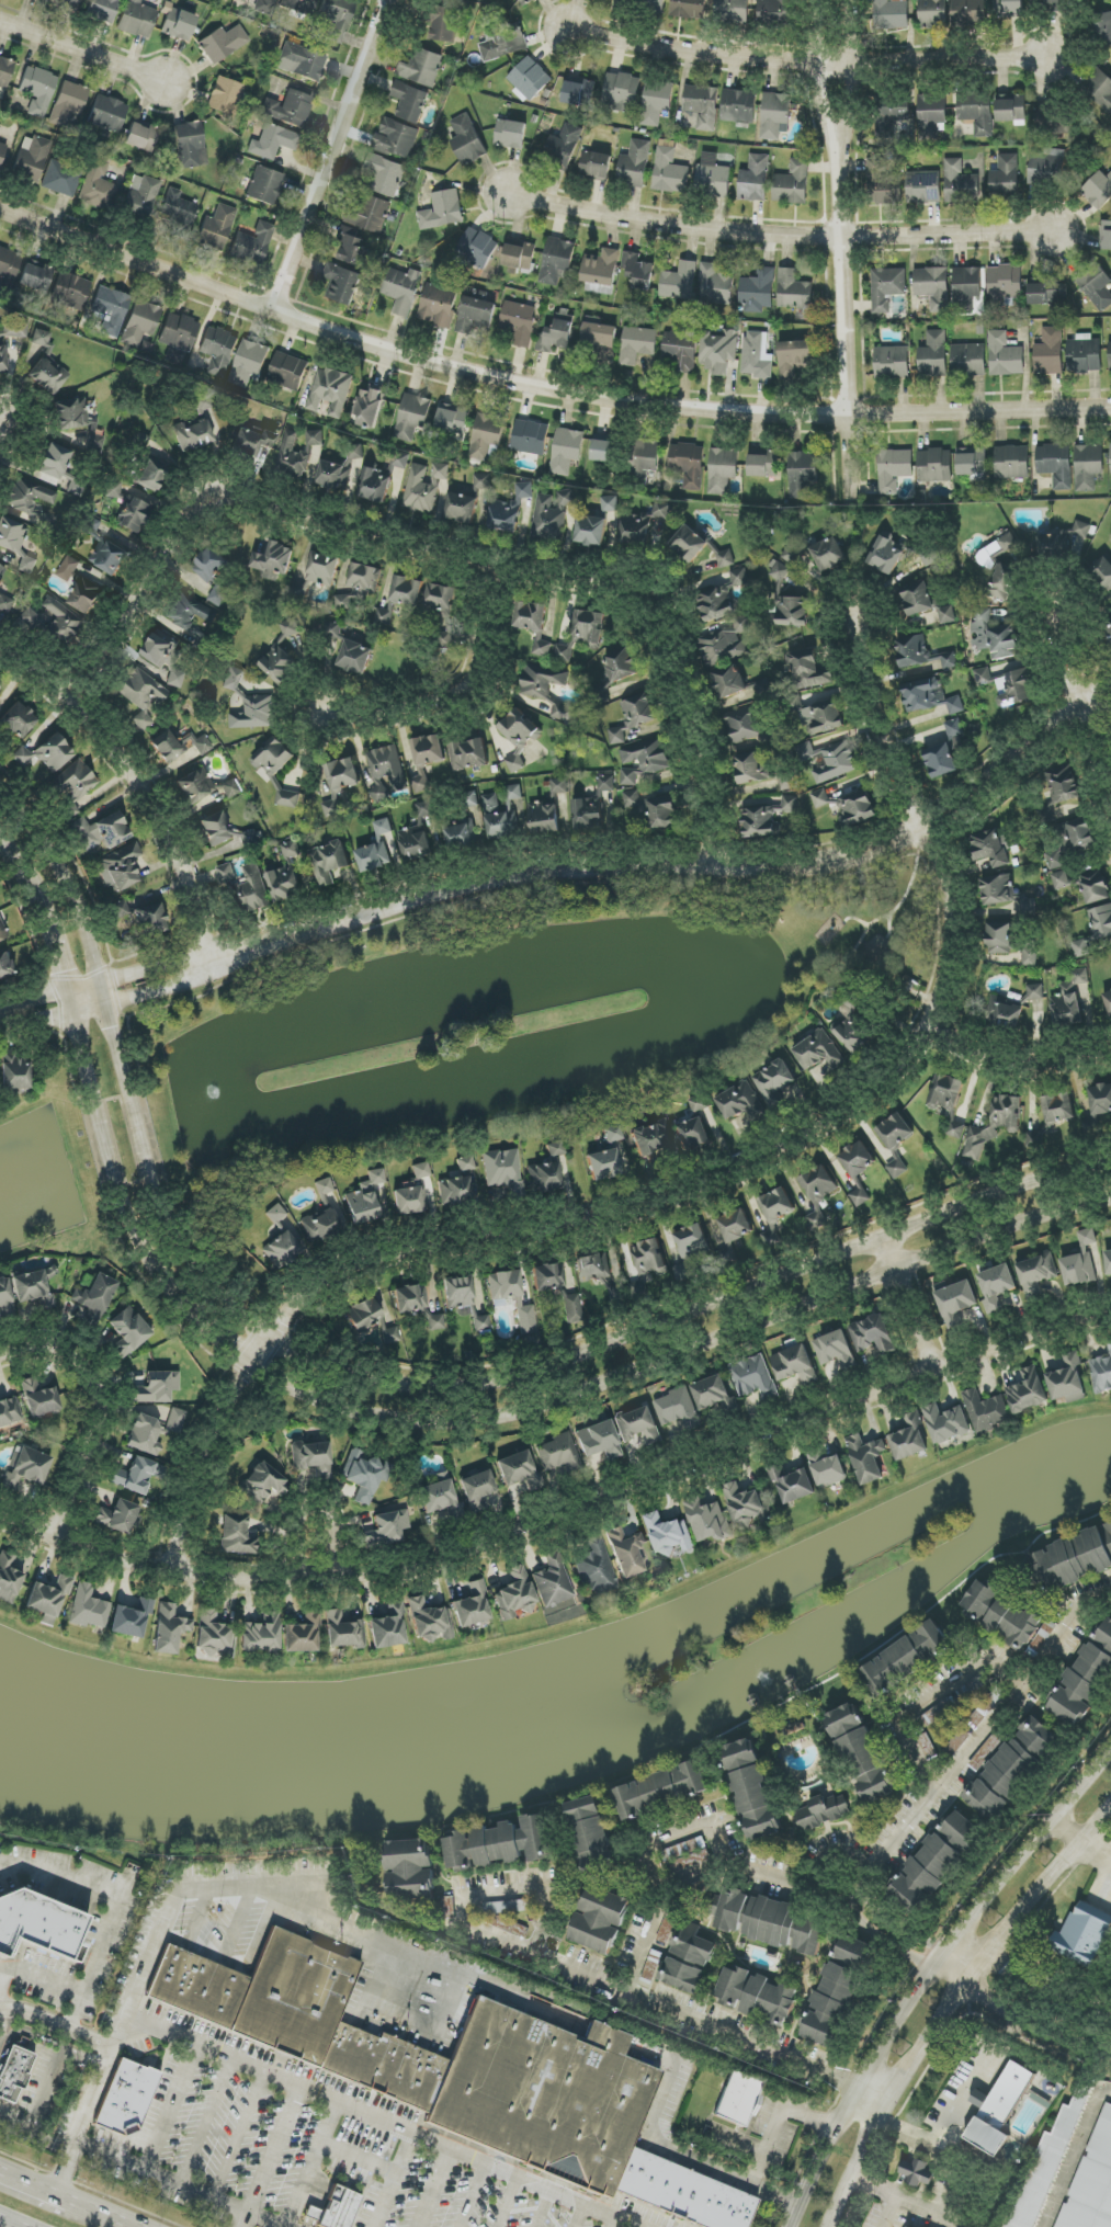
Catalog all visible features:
building: (624, 0)
building: (524, 2)
building: (651, 3)
building: (1047, 3)
building: (64, 4)
building: (299, 5)
building: (264, 7)
building: (1009, 8)
building: (103, 9)
building: (689, 9)
building: (732, 10)
building: (775, 11)
building: (968, 12)
building: (933, 13)
building: (891, 14)
building: (337, 18)
building: (137, 19)
building: (179, 24)
building: (444, 24)
building: (1104, 29)
building: (223, 43)
road: (82, 50)
road: (806, 59)
building: (301, 61)
building: (422, 68)
building: (5, 71)
building: (530, 78)
building: (37, 90)
building: (1099, 90)
building: (622, 92)
building: (578, 93)
building: (225, 96)
building: (701, 99)
building: (410, 102)
building: (656, 102)
building: (68, 103)
building: (740, 105)
building: (288, 109)
building: (1011, 109)
building: (976, 112)
building: (107, 113)
building: (931, 115)
building: (775, 116)
building: (891, 116)
building: (1052, 118)
building: (511, 134)
building: (141, 137)
building: (396, 138)
building: (467, 140)
building: (273, 141)
building: (191, 145)
building: (563, 147)
building: (2, 151)
road: (328, 155)
building: (31, 157)
building: (635, 164)
building: (596, 166)
building: (1046, 168)
building: (669, 170)
building: (385, 175)
building: (1006, 175)
building: (61, 178)
building: (713, 180)
building: (755, 180)
building: (793, 183)
building: (883, 183)
building: (960, 183)
building: (264, 185)
building: (98, 186)
building: (923, 188)
building: (1098, 190)
building: (141, 196)
road: (838, 206)
building: (178, 208)
building: (443, 211)
building: (370, 214)
building: (216, 227)
road: (776, 235)
building: (1106, 236)
building: (252, 245)
building: (354, 248)
building: (477, 248)
building: (519, 255)
building: (557, 261)
building: (601, 268)
building: (7, 270)
building: (638, 270)
building: (35, 276)
building: (679, 282)
building: (1005, 282)
building: (342, 284)
building: (717, 284)
building: (933, 287)
building: (887, 288)
building: (967, 288)
building: (403, 289)
building: (70, 291)
building: (758, 291)
building: (793, 291)
building: (1047, 292)
building: (438, 305)
building: (111, 310)
building: (475, 316)
building: (140, 322)
building: (519, 322)
building: (179, 332)
building: (557, 332)
building: (10, 336)
building: (42, 338)
building: (599, 339)
building: (637, 344)
building: (218, 350)
building: (681, 350)
building: (719, 351)
building: (1050, 352)
building: (1084, 354)
building: (933, 355)
building: (1005, 355)
building: (1110, 355)
building: (756, 356)
building: (794, 357)
building: (251, 359)
building: (968, 360)
building: (892, 363)
building: (287, 371)
building: (47, 376)
road: (542, 387)
building: (330, 391)
building: (203, 404)
building: (369, 408)
building: (73, 416)
building: (412, 417)
building: (453, 418)
road: (2, 427)
building: (193, 434)
building: (487, 435)
building: (315, 438)
building: (530, 438)
building: (251, 441)
building: (1110, 444)
building: (567, 451)
building: (603, 451)
building: (355, 452)
building: (292, 457)
building: (647, 457)
road: (843, 459)
building: (972, 462)
building: (1011, 463)
building: (54, 464)
building: (688, 464)
building: (763, 464)
building: (934, 465)
building: (1056, 465)
building: (1088, 466)
building: (895, 467)
building: (723, 469)
building: (151, 474)
building: (803, 475)
building: (335, 476)
building: (382, 478)
building: (483, 481)
building: (423, 488)
building: (113, 489)
building: (29, 496)
building: (609, 503)
building: (462, 508)
building: (510, 510)
building: (133, 514)
building: (552, 514)
building: (48, 522)
building: (643, 524)
road: (335, 526)
building: (590, 531)
building: (1080, 537)
building: (16, 544)
building: (689, 544)
building: (1054, 546)
building: (792, 554)
building: (827, 555)
building: (886, 555)
building: (109, 556)
building: (725, 559)
building: (274, 560)
building: (209, 565)
building: (999, 567)
building: (68, 568)
building: (322, 569)
building: (1, 570)
building: (1103, 572)
building: (739, 577)
building: (776, 577)
building: (359, 586)
building: (407, 591)
building: (219, 592)
building: (86, 595)
building: (917, 599)
building: (716, 603)
building: (4, 605)
building: (441, 609)
building: (792, 611)
road: (133, 613)
building: (190, 615)
building: (385, 615)
building: (946, 615)
building: (54, 622)
building: (533, 624)
building: (1110, 628)
building: (333, 629)
building: (582, 633)
building: (994, 636)
building: (727, 643)
building: (915, 651)
road: (669, 656)
building: (281, 657)
building: (355, 657)
building: (166, 658)
building: (949, 660)
building: (621, 664)
building: (808, 670)
building: (233, 679)
building: (542, 680)
building: (729, 682)
building: (0, 688)
building: (763, 688)
building: (141, 694)
road: (1074, 695)
road: (457, 696)
building: (601, 696)
building: (929, 696)
building: (560, 712)
building: (256, 713)
building: (633, 717)
building: (821, 718)
building: (18, 720)
building: (747, 723)
road: (878, 729)
building: (955, 734)
building: (519, 736)
building: (179, 746)
building: (428, 750)
building: (468, 753)
building: (46, 754)
building: (274, 757)
building: (830, 760)
building: (642, 761)
building: (940, 761)
building: (387, 766)
road: (1074, 766)
building: (753, 768)
building: (342, 774)
building: (420, 782)
road: (136, 783)
building: (606, 783)
building: (73, 785)
building: (195, 785)
building: (1063, 785)
building: (558, 786)
building: (230, 787)
building: (288, 798)
building: (820, 798)
building: (331, 807)
building: (857, 807)
building: (654, 808)
building: (588, 813)
building: (766, 817)
building: (499, 819)
building: (383, 828)
building: (216, 829)
building: (100, 832)
building: (417, 834)
building: (240, 836)
building: (460, 836)
building: (1070, 842)
building: (990, 848)
building: (291, 850)
building: (374, 857)
building: (329, 862)
building: (121, 868)
road: (571, 872)
building: (1061, 879)
building: (284, 883)
building: (247, 886)
building: (1095, 886)
building: (1005, 894)
building: (121, 909)
building: (149, 920)
building: (1096, 930)
building: (2, 931)
building: (999, 939)
park: (860, 943)
building: (1030, 956)
building: (4, 965)
building: (1034, 992)
building: (1069, 1000)
building: (1108, 1001)
building: (1002, 1013)
building: (851, 1026)
building: (818, 1052)
road: (1020, 1061)
building: (14, 1070)
building: (774, 1082)
building: (1100, 1100)
building: (948, 1101)
building: (740, 1102)
building: (1058, 1107)
building: (994, 1125)
building: (895, 1130)
building: (614, 1134)
building: (692, 1135)
building: (651, 1137)
building: (1033, 1139)
building: (556, 1149)
building: (857, 1159)
building: (605, 1161)
building: (466, 1163)
building: (897, 1166)
building: (421, 1170)
building: (502, 1170)
building: (544, 1177)
building: (818, 1184)
building: (324, 1186)
building: (457, 1191)
building: (860, 1197)
building: (365, 1198)
building: (410, 1200)
building: (776, 1204)
building: (275, 1214)
building: (815, 1220)
road: (587, 1224)
building: (321, 1225)
building: (733, 1227)
building: (771, 1237)
building: (282, 1249)
building: (690, 1250)
building: (649, 1258)
building: (1080, 1261)
building: (1108, 1262)
building: (593, 1268)
building: (1036, 1273)
building: (548, 1276)
building: (505, 1285)
building: (996, 1286)
building: (34, 1287)
building: (619, 1293)
building: (95, 1296)
building: (5, 1299)
building: (463, 1300)
building: (955, 1302)
building: (417, 1306)
road: (906, 1306)
building: (572, 1308)
building: (526, 1318)
building: (371, 1319)
building: (128, 1331)
building: (872, 1334)
building: (835, 1350)
building: (794, 1365)
building: (1101, 1373)
building: (753, 1377)
building: (1068, 1379)
road: (397, 1380)
building: (157, 1387)
building: (1028, 1391)
building: (714, 1395)
building: (38, 1398)
building: (677, 1408)
building: (9, 1411)
building: (986, 1411)
road: (95, 1412)
building: (177, 1419)
road: (397, 1419)
building: (946, 1423)
building: (638, 1425)
building: (145, 1434)
building: (909, 1439)
building: (599, 1440)
building: (558, 1453)
building: (313, 1457)
building: (866, 1458)
building: (25, 1467)
building: (827, 1468)
building: (520, 1470)
building: (136, 1475)
building: (364, 1475)
building: (262, 1482)
building: (792, 1485)
building: (477, 1489)
building: (438, 1493)
building: (747, 1506)
road: (589, 1508)
building: (117, 1516)
building: (706, 1521)
building: (387, 1529)
road: (25, 1530)
building: (1108, 1531)
building: (668, 1534)
building: (236, 1535)
road: (313, 1552)
building: (626, 1552)
building: (1072, 1560)
building: (596, 1567)
building: (9, 1577)
building: (553, 1581)
building: (515, 1594)
building: (48, 1599)
building: (472, 1605)
building: (89, 1609)
building: (1001, 1614)
building: (132, 1618)
building: (429, 1620)
building: (388, 1626)
building: (169, 1628)
building: (343, 1631)
building: (303, 1634)
building: (1104, 1634)
building: (211, 1635)
building: (906, 1658)
building: (1080, 1685)
road: (938, 1700)
building: (989, 1704)
building: (939, 1711)
building: (1039, 1737)
building: (959, 1740)
building: (928, 1747)
building: (862, 1753)
building: (1011, 1768)
building: (753, 1788)
building: (662, 1789)
building: (985, 1799)
building: (824, 1811)
road: (917, 1814)
building: (962, 1831)
building: (592, 1834)
building: (501, 1843)
road: (1084, 1847)
building: (687, 1855)
road: (647, 1856)
building: (410, 1870)
building: (926, 1873)
road: (559, 1896)
building: (449, 1907)
building: (507, 1907)
building: (600, 1920)
road: (903, 1921)
road: (976, 1921)
building: (771, 1922)
building: (38, 1923)
road: (107, 1927)
building: (510, 1927)
building: (1084, 1935)
building: (693, 1946)
road: (408, 1951)
building: (853, 1952)
road: (140, 1963)
road: (989, 1964)
building: (682, 1976)
building: (755, 1996)
building: (830, 2004)
road: (1025, 2012)
building: (294, 2013)
road: (397, 2019)
road: (696, 2024)
road: (55, 2026)
road: (7, 2027)
road: (605, 2036)
road: (55, 2068)
building: (14, 2073)
building: (541, 2095)
building: (738, 2099)
building: (123, 2101)
road: (873, 2105)
road: (170, 2107)
building: (998, 2109)
road: (367, 2115)
road: (868, 2115)
road: (780, 2120)
road: (946, 2125)
road: (36, 2131)
road: (666, 2151)
road: (1074, 2154)
road: (272, 2157)
road: (824, 2161)
building: (1047, 2166)
road: (13, 2173)
building: (918, 2173)
road: (859, 2174)
road: (13, 2179)
building: (1092, 2180)
road: (179, 2183)
road: (48, 2189)
road: (439, 2190)
road: (895, 2192)
building: (679, 2194)
building: (336, 2209)
road: (105, 2213)
road: (10, 2223)
road: (626, 2225)

